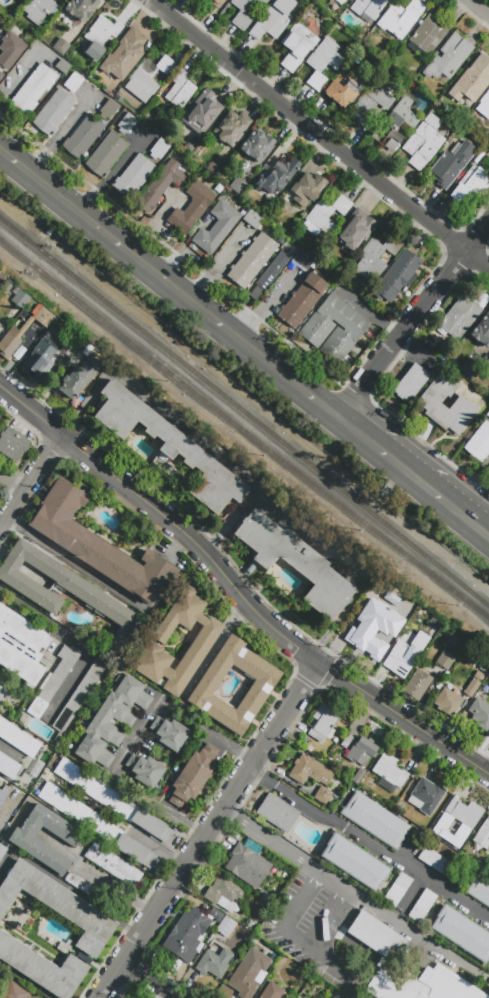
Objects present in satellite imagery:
building: (214, 2)
building: (341, 2)
road: (479, 7)
building: (81, 8)
building: (367, 8)
building: (31, 11)
building: (242, 17)
building: (401, 18)
building: (274, 20)
building: (429, 35)
building: (100, 36)
building: (296, 45)
building: (61, 46)
building: (10, 50)
building: (124, 55)
building: (449, 58)
building: (322, 63)
building: (62, 67)
building: (1, 75)
building: (148, 77)
building: (73, 82)
building: (469, 84)
building: (344, 89)
building: (33, 90)
building: (181, 90)
building: (370, 106)
building: (484, 106)
building: (108, 110)
building: (53, 112)
building: (198, 117)
building: (127, 123)
building: (395, 126)
building: (231, 128)
road: (320, 135)
building: (83, 137)
building: (423, 142)
building: (256, 146)
building: (158, 149)
road: (2, 152)
building: (106, 154)
building: (451, 164)
building: (133, 177)
building: (276, 177)
building: (471, 185)
building: (162, 186)
building: (307, 190)
building: (191, 208)
building: (325, 216)
building: (253, 220)
building: (216, 228)
building: (356, 229)
road: (170, 250)
road: (460, 255)
building: (374, 258)
building: (251, 260)
building: (304, 261)
building: (270, 273)
building: (398, 276)
building: (2, 280)
road: (172, 286)
building: (8, 288)
building: (20, 298)
building: (302, 301)
building: (44, 318)
building: (458, 318)
building: (0, 323)
building: (0, 326)
building: (318, 328)
building: (482, 334)
building: (10, 343)
road: (386, 354)
building: (38, 359)
building: (488, 363)
building: (78, 378)
building: (410, 383)
road: (348, 391)
road: (364, 398)
building: (431, 406)
road: (30, 411)
railway: (244, 411)
building: (488, 414)
road: (70, 428)
railway: (243, 429)
road: (358, 432)
road: (62, 437)
building: (479, 442)
building: (12, 444)
road: (430, 447)
building: (170, 448)
building: (488, 469)
road: (412, 474)
road: (30, 481)
road: (12, 482)
building: (0, 486)
road: (250, 486)
road: (468, 516)
road: (228, 522)
building: (309, 529)
building: (97, 545)
road: (74, 562)
building: (295, 562)
building: (85, 593)
road: (265, 619)
building: (378, 640)
road: (74, 642)
building: (202, 642)
building: (21, 646)
building: (403, 658)
building: (445, 661)
building: (478, 676)
building: (54, 681)
building: (417, 684)
building: (3, 687)
building: (472, 687)
building: (205, 688)
building: (78, 695)
building: (447, 703)
building: (183, 704)
building: (479, 713)
building: (112, 721)
building: (323, 723)
building: (169, 733)
road: (136, 736)
building: (18, 739)
building: (347, 739)
building: (308, 749)
road: (9, 751)
building: (362, 752)
building: (8, 766)
building: (144, 770)
building: (310, 771)
building: (390, 771)
building: (357, 776)
building: (193, 777)
building: (322, 795)
building: (425, 796)
building: (1, 797)
building: (110, 800)
building: (277, 813)
building: (464, 813)
building: (375, 821)
building: (95, 824)
road: (203, 829)
building: (483, 836)
building: (22, 839)
road: (366, 841)
road: (157, 844)
building: (251, 847)
building: (354, 862)
building: (113, 864)
building: (247, 866)
building: (442, 866)
road: (99, 876)
building: (78, 883)
road: (65, 886)
road: (338, 886)
building: (397, 890)
building: (479, 890)
building: (223, 894)
building: (58, 906)
building: (423, 907)
building: (216, 915)
parking lot: (313, 916)
building: (462, 933)
building: (186, 935)
building: (386, 949)
building: (214, 963)
building: (42, 968)
building: (248, 973)
road: (27, 979)
road: (147, 980)
building: (272, 991)
building: (15, 992)

